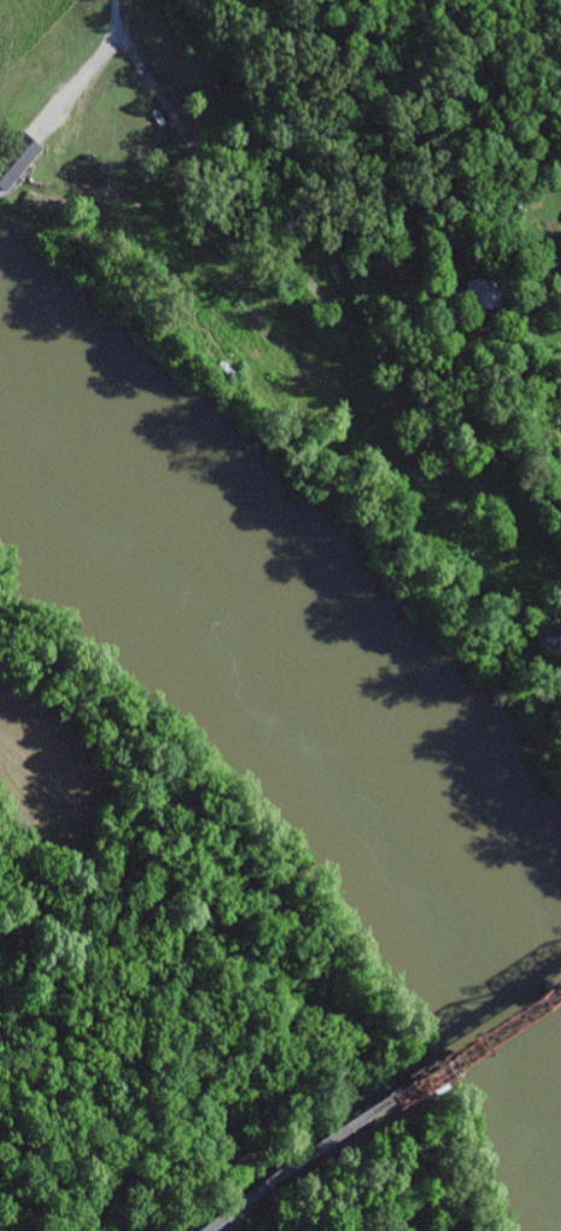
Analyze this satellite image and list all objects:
building: (14, 157)
building: (479, 294)
river: (310, 723)
railway: (378, 1103)

